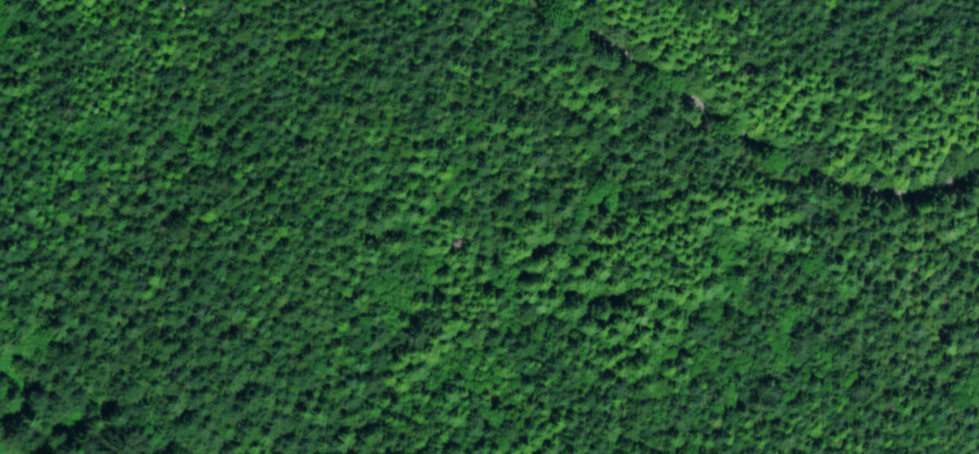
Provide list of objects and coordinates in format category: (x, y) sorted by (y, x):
road: (745, 140)

